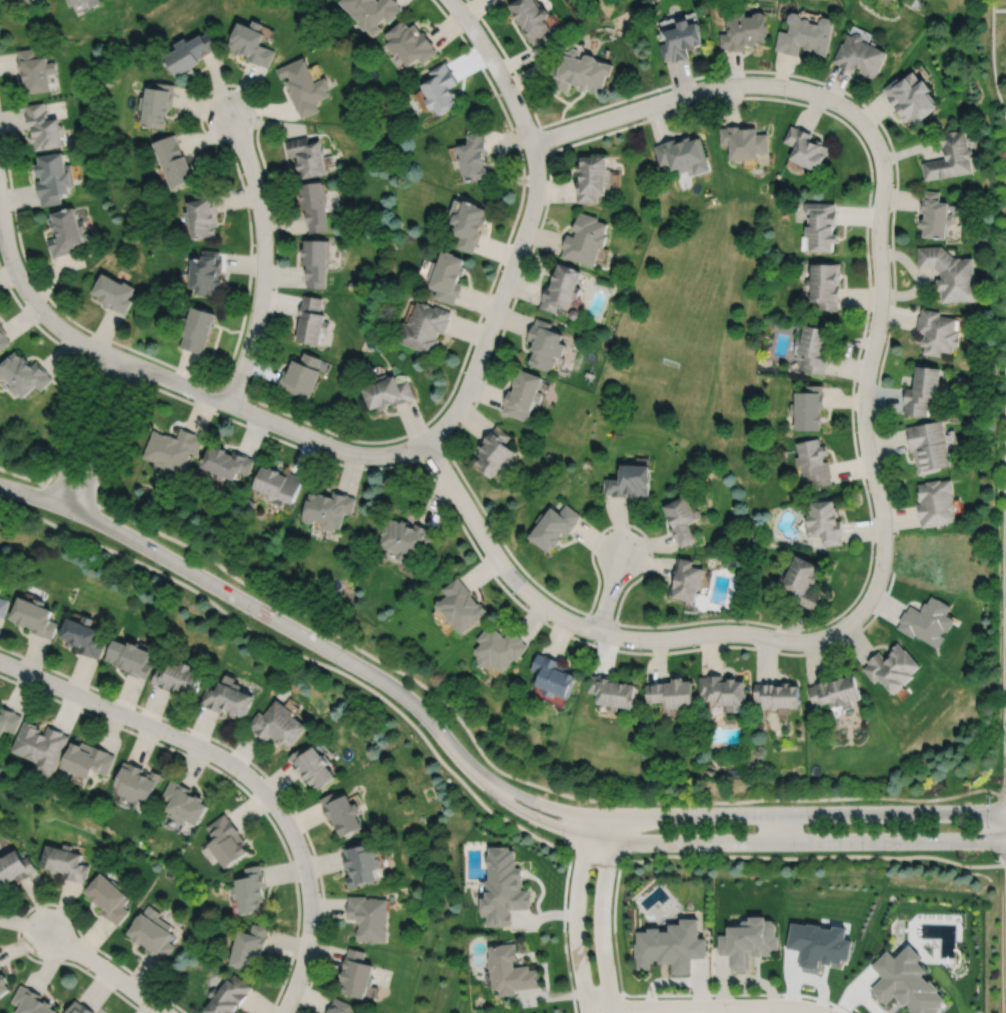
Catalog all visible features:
building: (32, 1)
building: (76, 2)
building: (95, 2)
park: (621, 5)
road: (999, 9)
building: (372, 11)
park: (966, 12)
building: (532, 17)
street lamp: (479, 21)
building: (743, 30)
building: (805, 35)
building: (683, 39)
building: (410, 42)
building: (253, 43)
building: (192, 52)
building: (860, 55)
road: (992, 61)
building: (35, 70)
building: (581, 71)
road: (515, 73)
road: (228, 84)
building: (303, 86)
building: (441, 88)
street lamp: (662, 90)
street lamp: (787, 98)
building: (911, 98)
building: (159, 104)
street lamp: (861, 106)
street lamp: (257, 116)
street lamp: (549, 126)
building: (43, 128)
building: (744, 141)
road: (890, 146)
building: (805, 148)
building: (685, 154)
building: (307, 156)
building: (475, 157)
building: (951, 157)
building: (176, 161)
building: (53, 178)
building: (594, 178)
street lamp: (870, 204)
building: (314, 206)
building: (205, 214)
building: (935, 216)
building: (468, 223)
building: (821, 227)
building: (66, 233)
building: (586, 239)
street lamp: (273, 240)
street lamp: (529, 247)
road: (263, 257)
building: (316, 262)
building: (208, 274)
building: (951, 274)
building: (448, 277)
building: (824, 286)
building: (563, 289)
building: (115, 294)
road: (39, 308)
building: (575, 315)
building: (311, 321)
street lamp: (867, 322)
building: (425, 328)
building: (200, 330)
building: (938, 333)
street lamp: (264, 337)
building: (3, 339)
building: (546, 346)
building: (813, 348)
street lamp: (491, 353)
road: (95, 361)
road: (475, 367)
road: (119, 372)
building: (23, 375)
building: (301, 375)
street lamp: (152, 382)
building: (923, 390)
building: (388, 393)
building: (524, 396)
street lamp: (251, 401)
building: (808, 406)
road: (851, 415)
road: (83, 429)
street lamp: (855, 431)
street lamp: (448, 435)
road: (106, 438)
road: (364, 441)
building: (929, 444)
building: (173, 448)
road: (431, 450)
building: (495, 451)
building: (813, 460)
building: (225, 461)
road: (870, 462)
street lamp: (364, 465)
street lamp: (105, 470)
road: (21, 475)
building: (628, 479)
building: (277, 482)
road: (70, 494)
building: (936, 501)
building: (328, 507)
building: (681, 517)
street lamp: (71, 520)
building: (824, 520)
building: (553, 525)
street lamp: (489, 526)
street lamp: (632, 529)
road: (465, 531)
building: (405, 537)
road: (1003, 545)
street lamp: (873, 556)
street lamp: (157, 564)
building: (686, 579)
building: (800, 581)
building: (0, 586)
road: (609, 592)
building: (460, 605)
building: (3, 606)
road: (254, 607)
street lamp: (1000, 611)
building: (35, 616)
street lamp: (251, 616)
road: (601, 618)
building: (928, 620)
street lamp: (550, 622)
street lamp: (748, 624)
building: (84, 635)
street lamp: (840, 641)
building: (499, 648)
street lamp: (643, 650)
building: (130, 657)
street lamp: (338, 666)
building: (892, 667)
building: (554, 676)
building: (177, 678)
building: (722, 690)
building: (611, 691)
building: (835, 691)
building: (671, 693)
building: (776, 694)
building: (226, 697)
building: (9, 720)
building: (277, 724)
street lamp: (420, 724)
street lamp: (1002, 736)
building: (41, 747)
building: (89, 760)
road: (251, 762)
building: (312, 767)
road: (242, 771)
road: (510, 776)
building: (137, 782)
road: (469, 789)
road: (1004, 796)
street lamp: (494, 801)
street lamp: (900, 803)
building: (183, 804)
street lamp: (797, 804)
street lamp: (695, 805)
street lamp: (634, 806)
building: (342, 814)
road: (738, 814)
road: (1003, 830)
street lamp: (567, 840)
building: (226, 841)
road: (733, 841)
street lamp: (897, 851)
street lamp: (632, 852)
street lamp: (798, 852)
street lamp: (700, 853)
street lamp: (997, 861)
building: (65, 863)
road: (1005, 864)
building: (360, 865)
building: (15, 869)
building: (504, 888)
building: (250, 890)
building: (109, 899)
street lamp: (611, 912)
road: (576, 913)
road: (602, 913)
building: (368, 918)
road: (564, 929)
street lamp: (567, 930)
building: (152, 934)
road: (1005, 938)
building: (748, 943)
building: (819, 945)
building: (670, 947)
building: (248, 948)
building: (0, 967)
road: (106, 970)
building: (511, 972)
building: (357, 975)
building: (906, 983)
building: (3, 987)
road: (668, 994)
building: (228, 996)
road: (621, 1001)
building: (31, 1002)
street lamp: (829, 1005)
building: (340, 1007)
road: (704, 1007)
building: (79, 1009)

